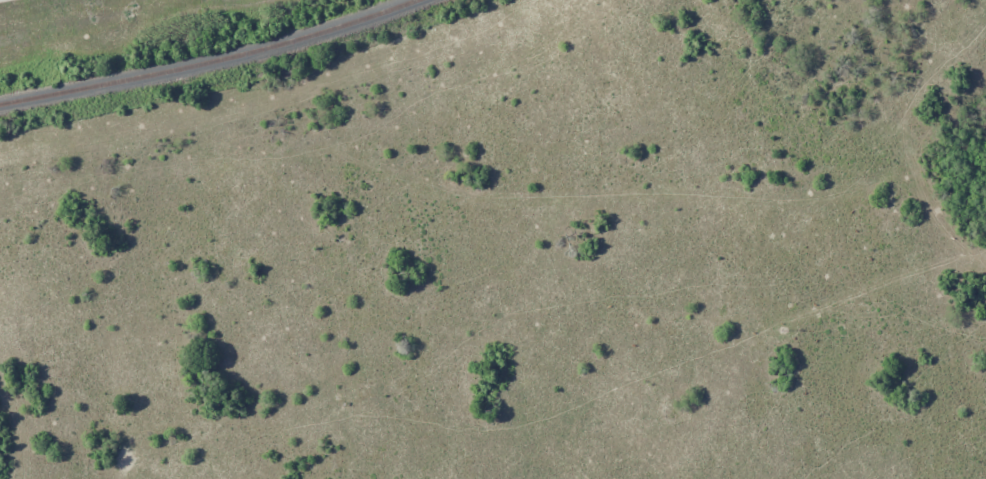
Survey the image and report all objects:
railway: (207, 61)

